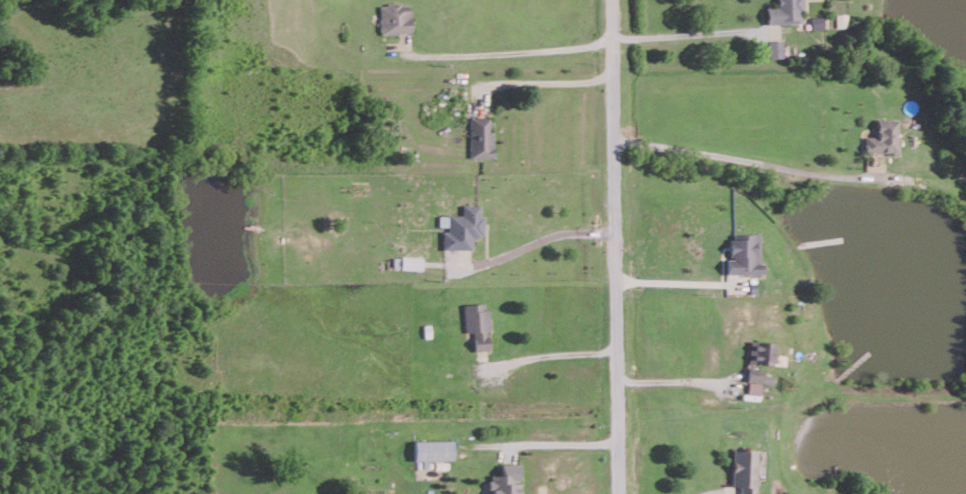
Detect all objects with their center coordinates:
building: (783, 11)
building: (393, 17)
building: (839, 19)
building: (815, 22)
road: (683, 34)
building: (773, 48)
road: (510, 51)
road: (547, 83)
building: (479, 136)
building: (882, 136)
road: (742, 157)
building: (462, 228)
road: (537, 241)
road: (616, 247)
building: (742, 254)
building: (410, 262)
road: (669, 281)
building: (476, 324)
road: (549, 353)
building: (758, 361)
road: (671, 380)
building: (752, 387)
road: (563, 442)
building: (432, 449)
building: (743, 470)
building: (506, 480)

